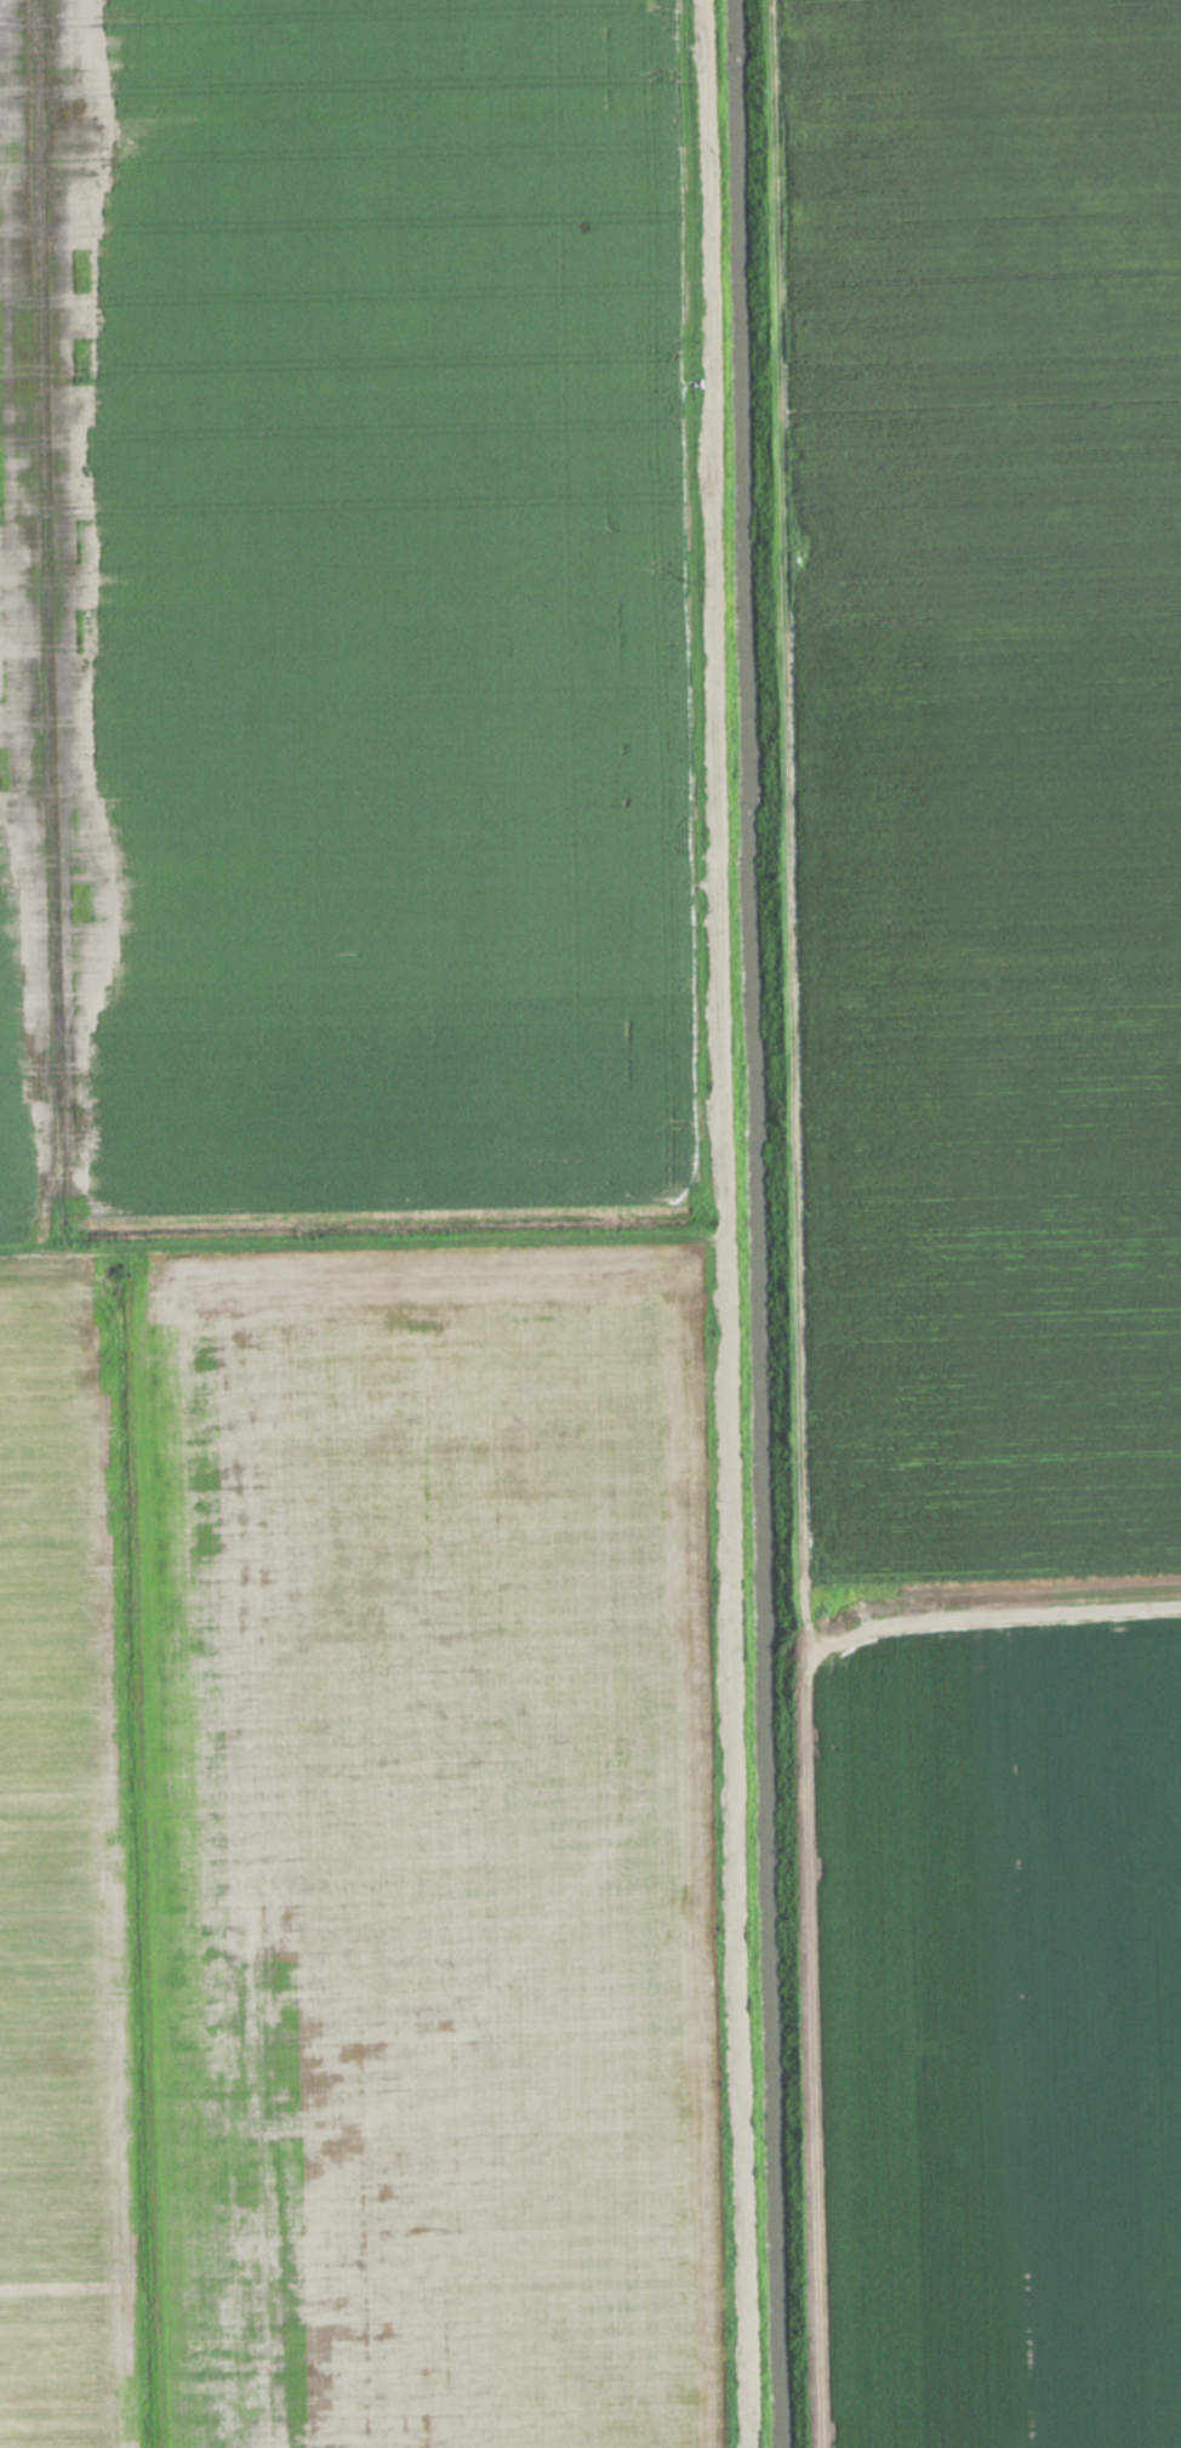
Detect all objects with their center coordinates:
road: (723, 1224)

